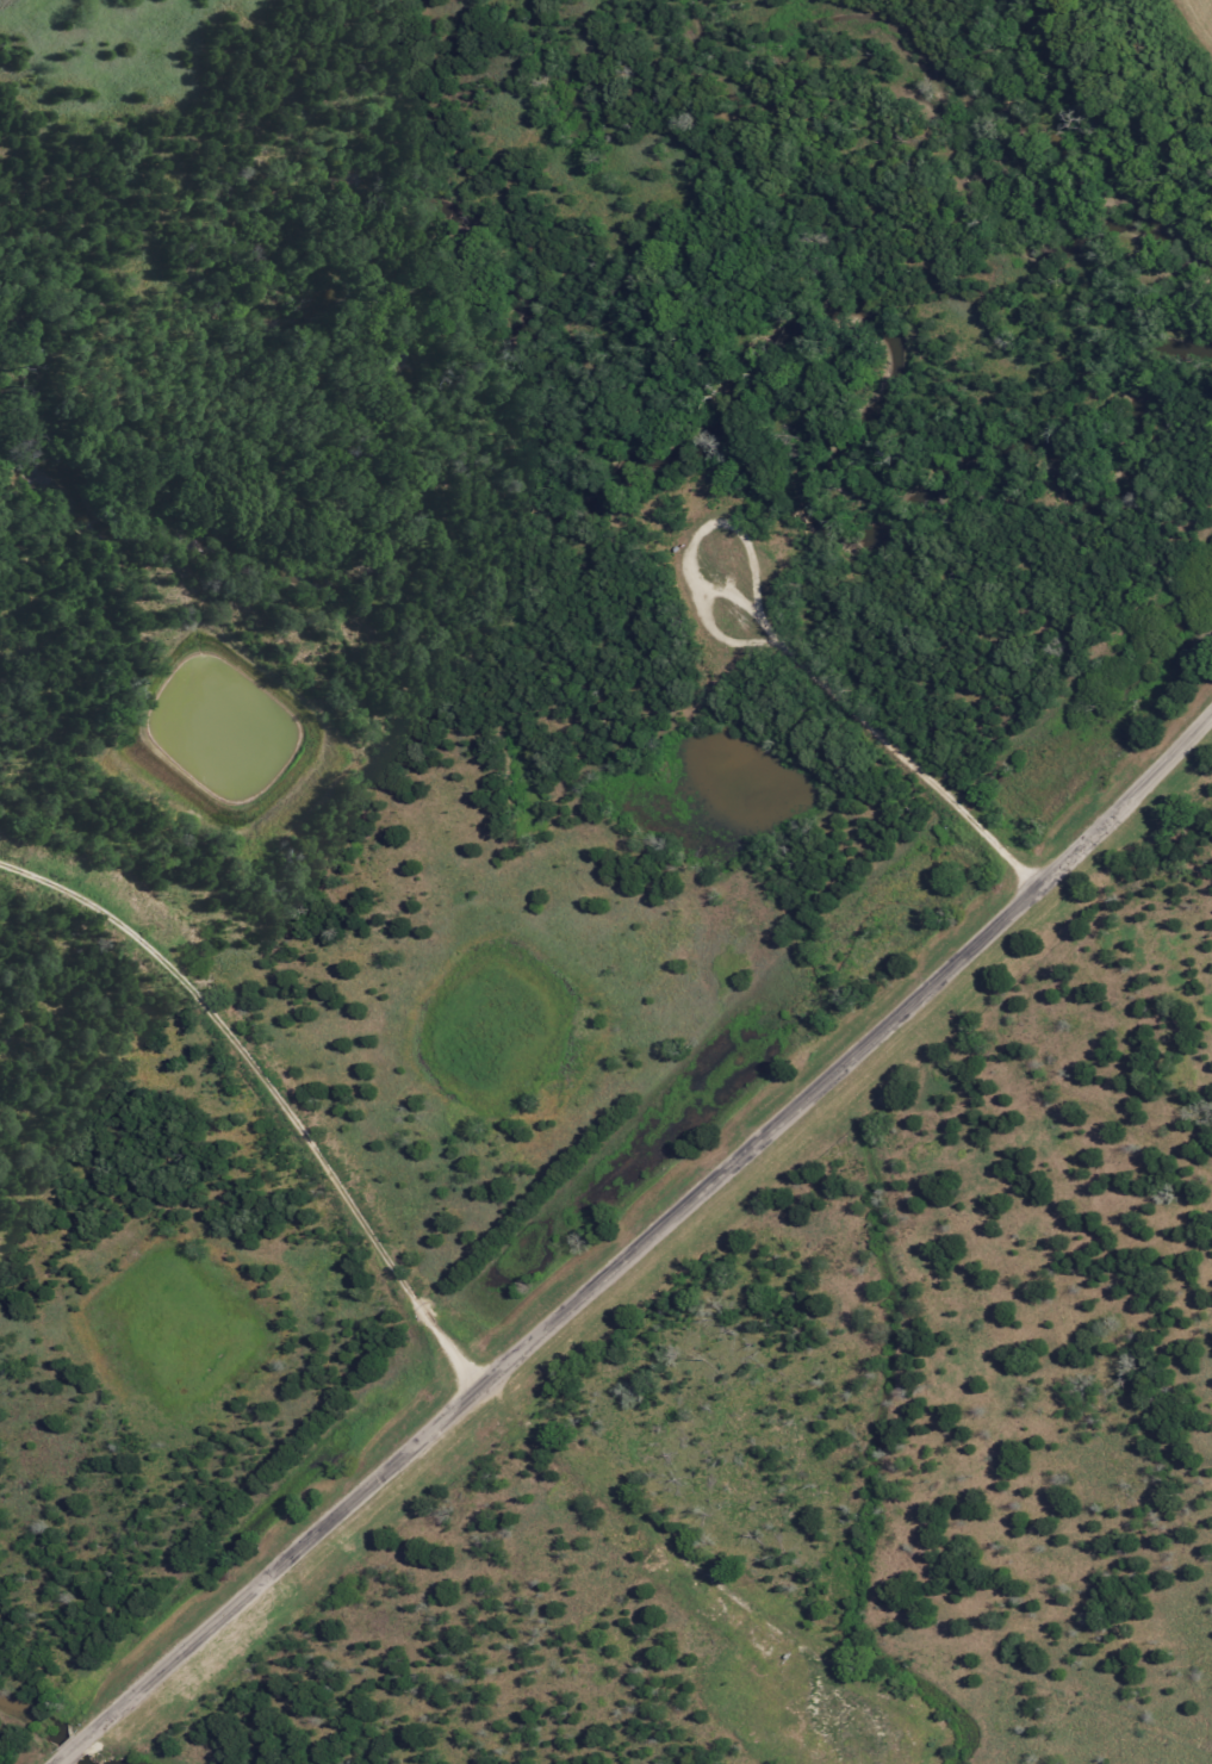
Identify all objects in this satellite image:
road: (640, 1244)
petroleum well: (823, 1749)

